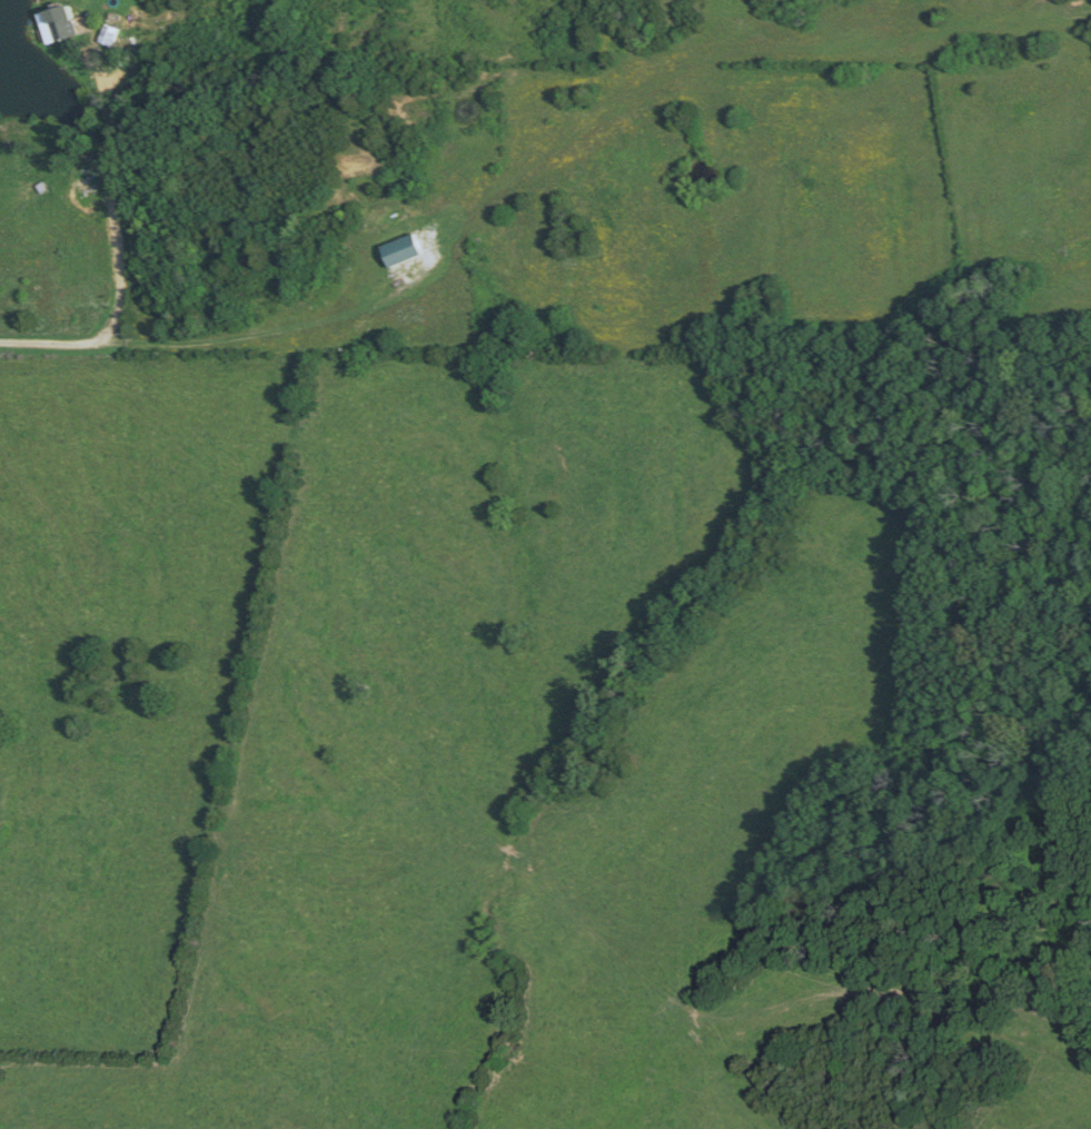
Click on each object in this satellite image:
road: (106, 209)
building: (20, 289)
road: (224, 341)

